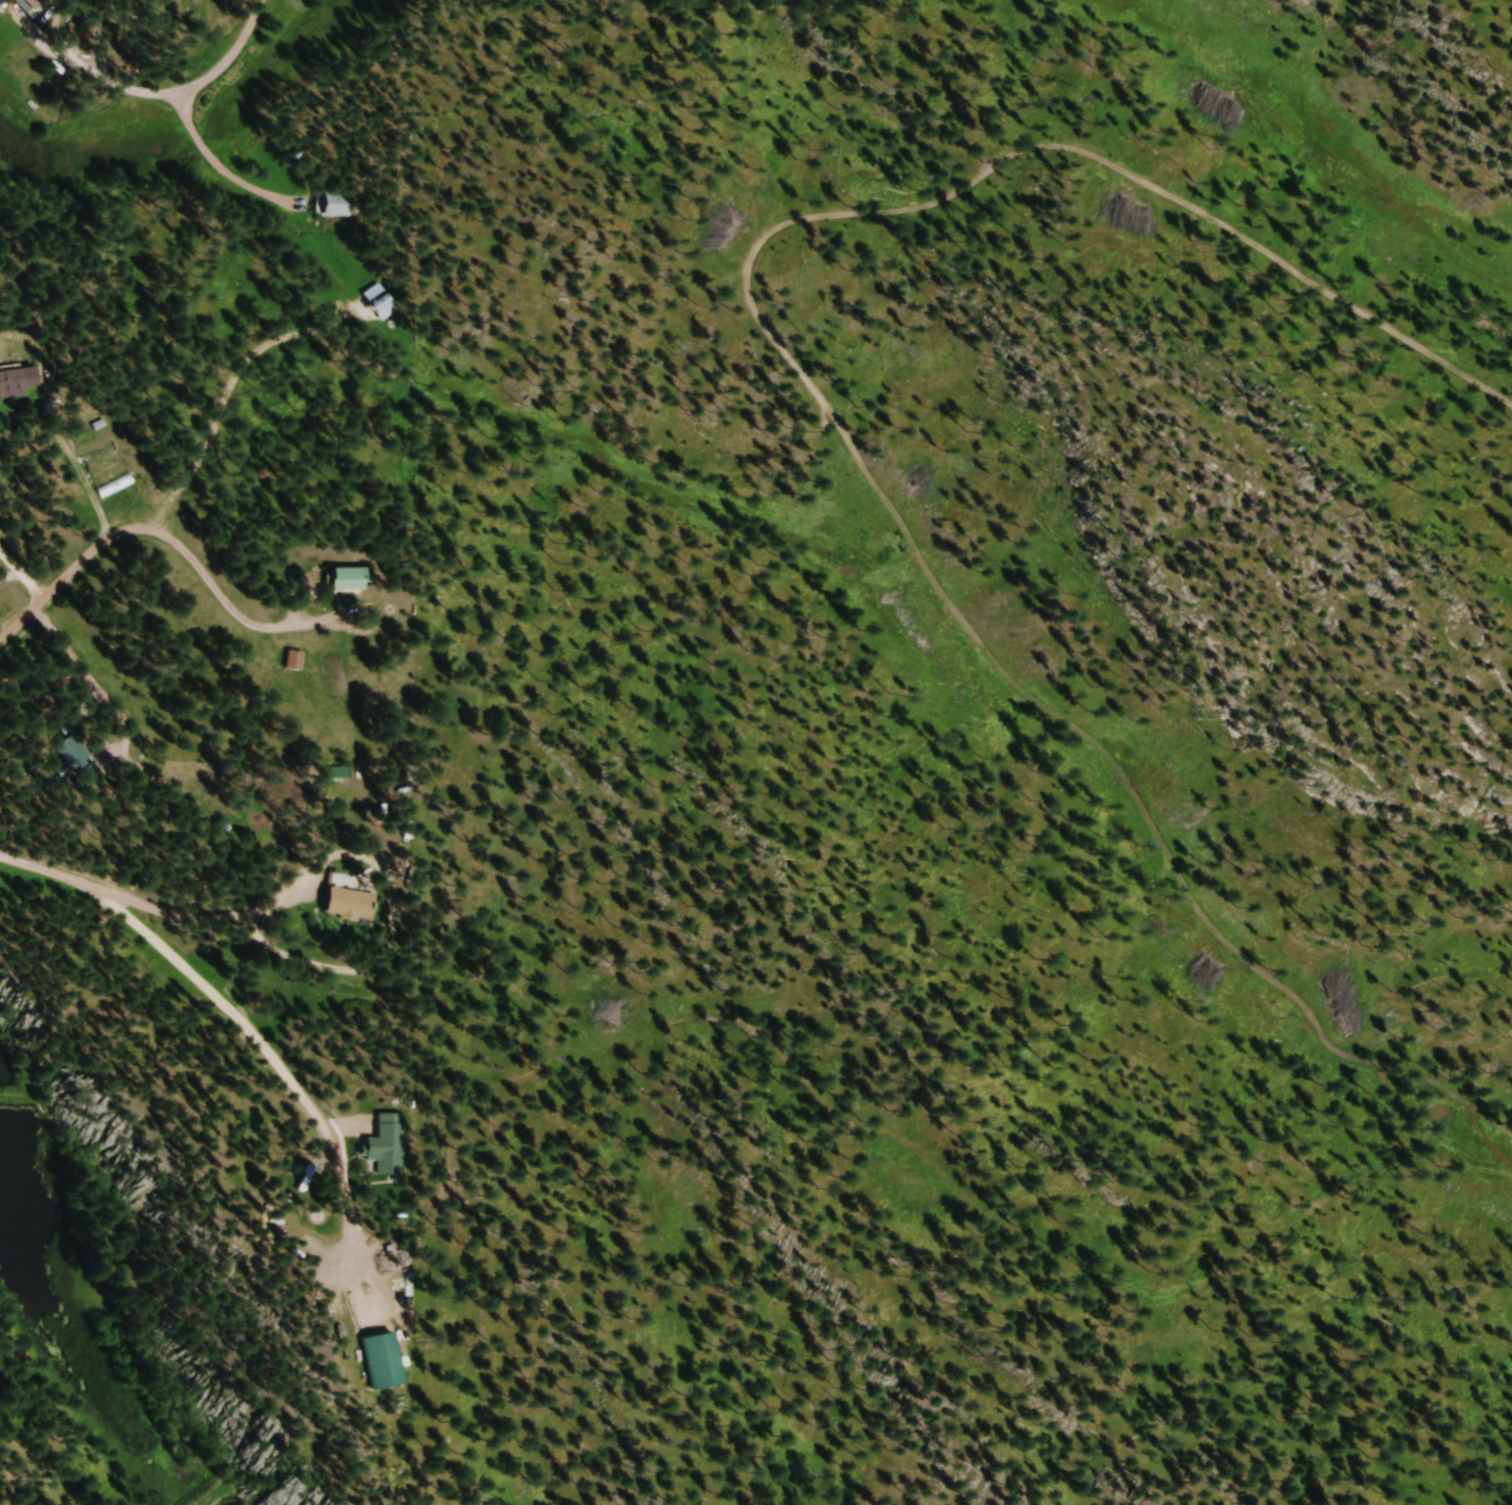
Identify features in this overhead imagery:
building: (40, 4)
road: (193, 87)
building: (343, 210)
building: (20, 384)
building: (103, 457)
building: (120, 489)
road: (136, 533)
building: (359, 583)
building: (294, 662)
building: (72, 758)
building: (344, 905)
road: (610, 1139)
building: (390, 1145)
road: (349, 1240)
road: (236, 1324)
building: (380, 1363)

